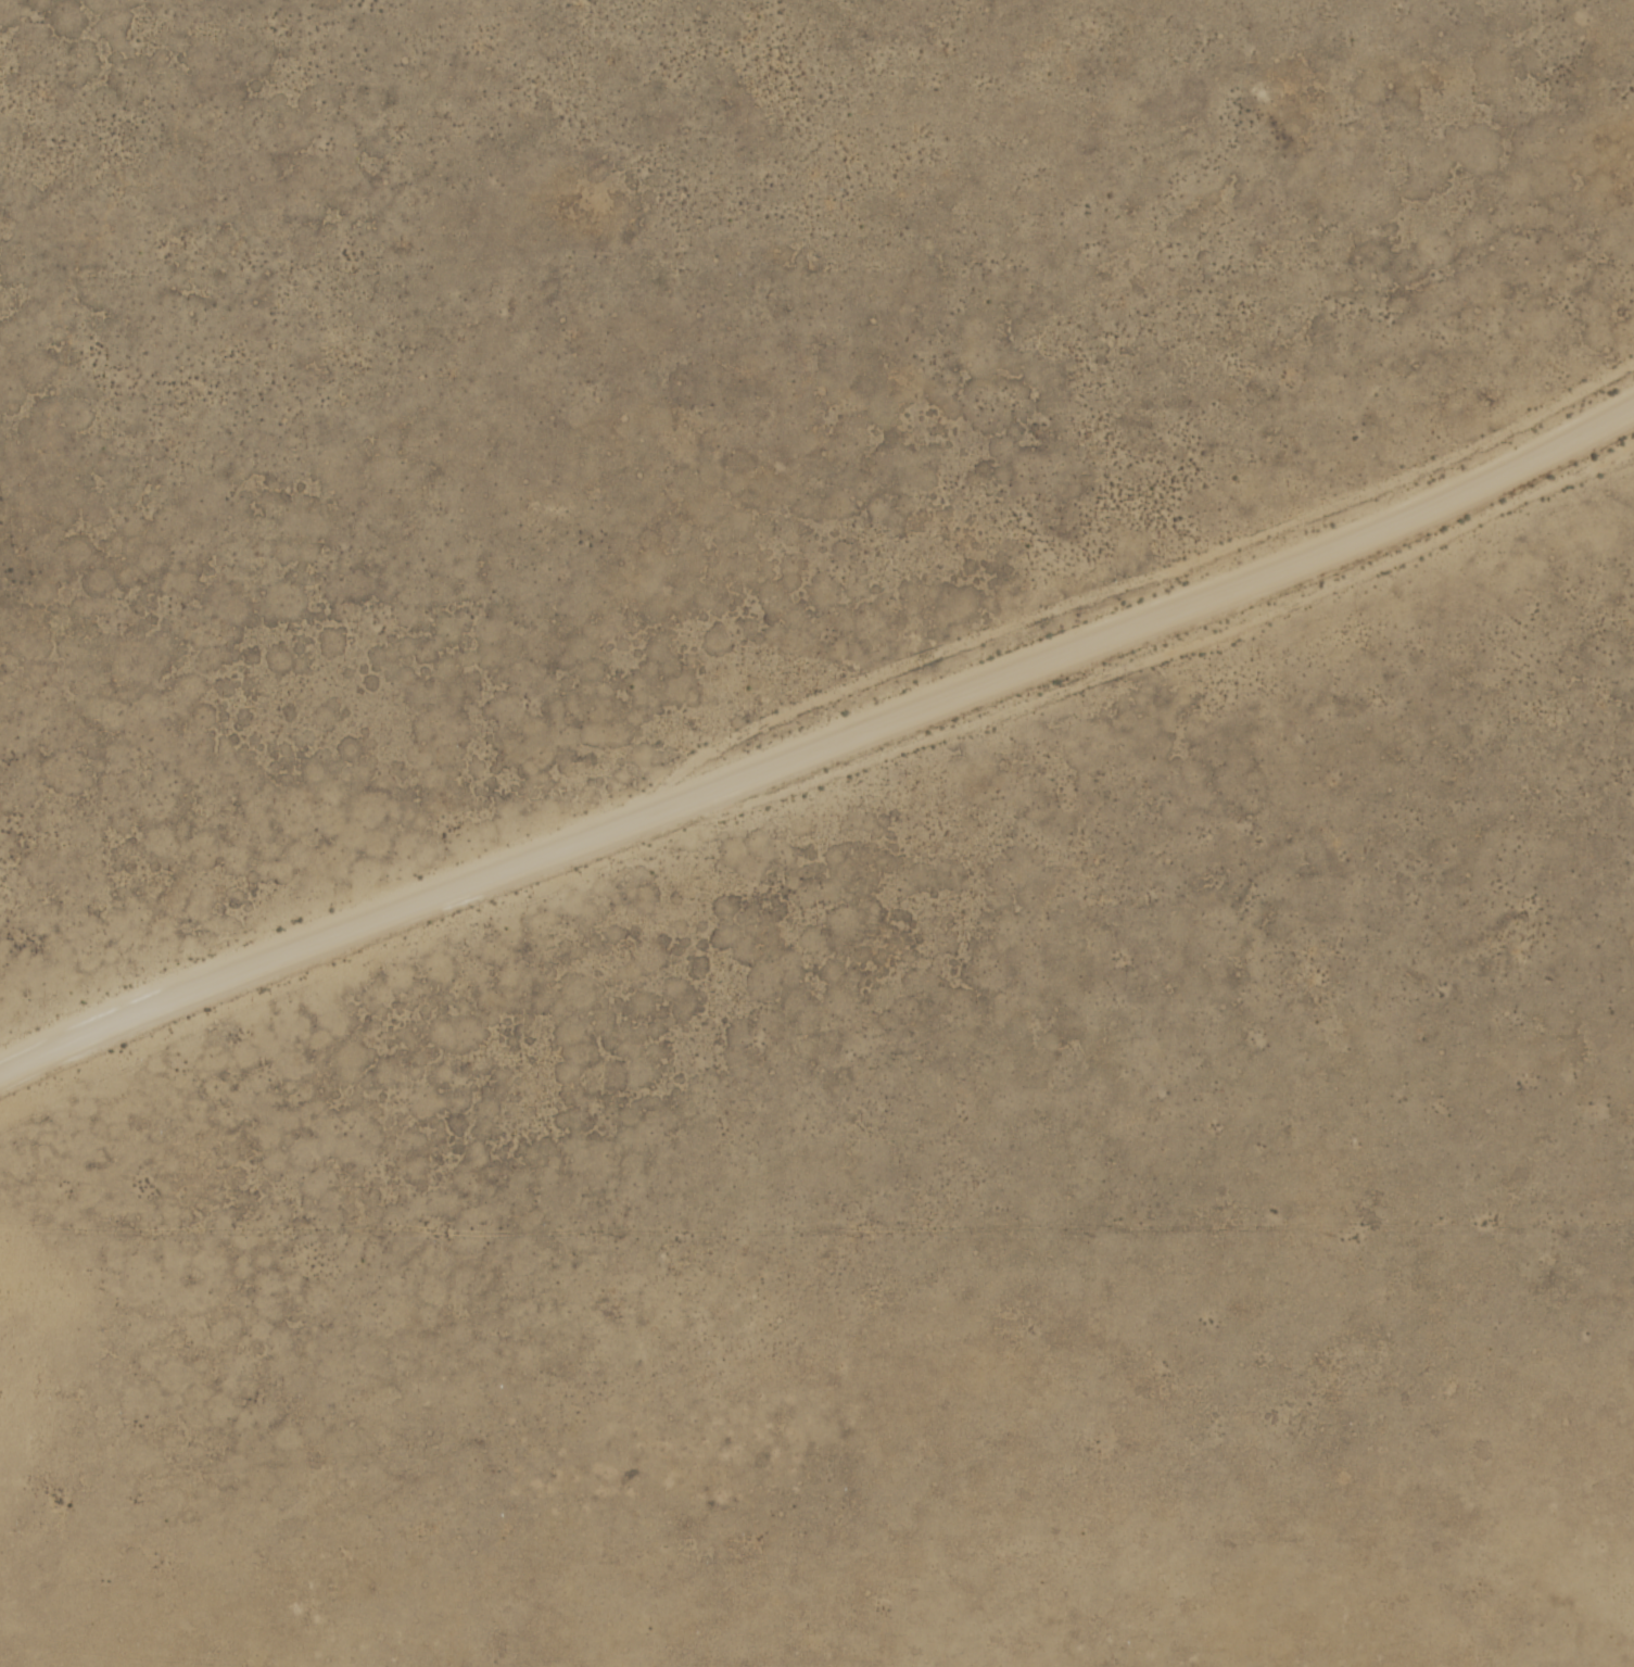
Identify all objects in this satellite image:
road: (820, 747)

